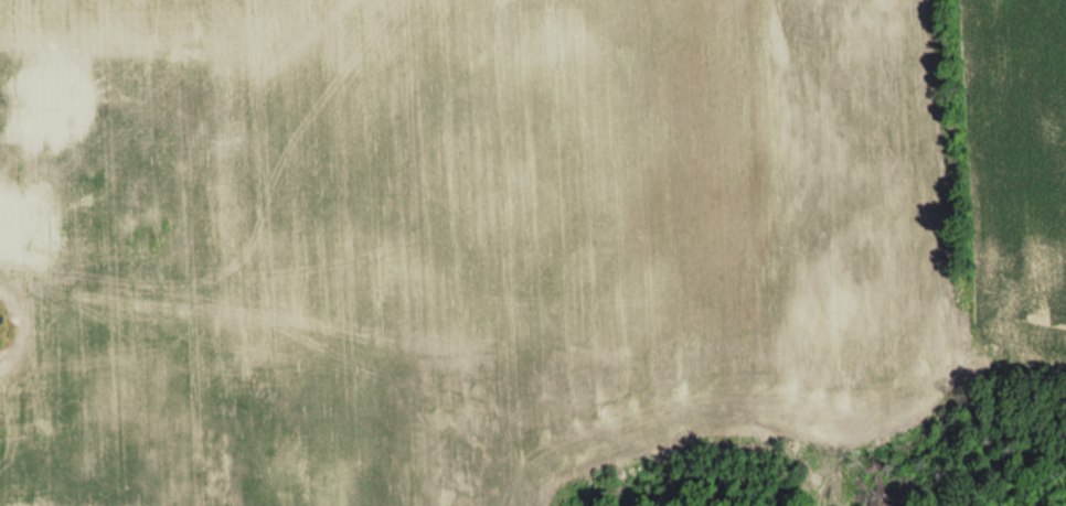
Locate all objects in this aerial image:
building: (28, 103)
building: (6, 224)

